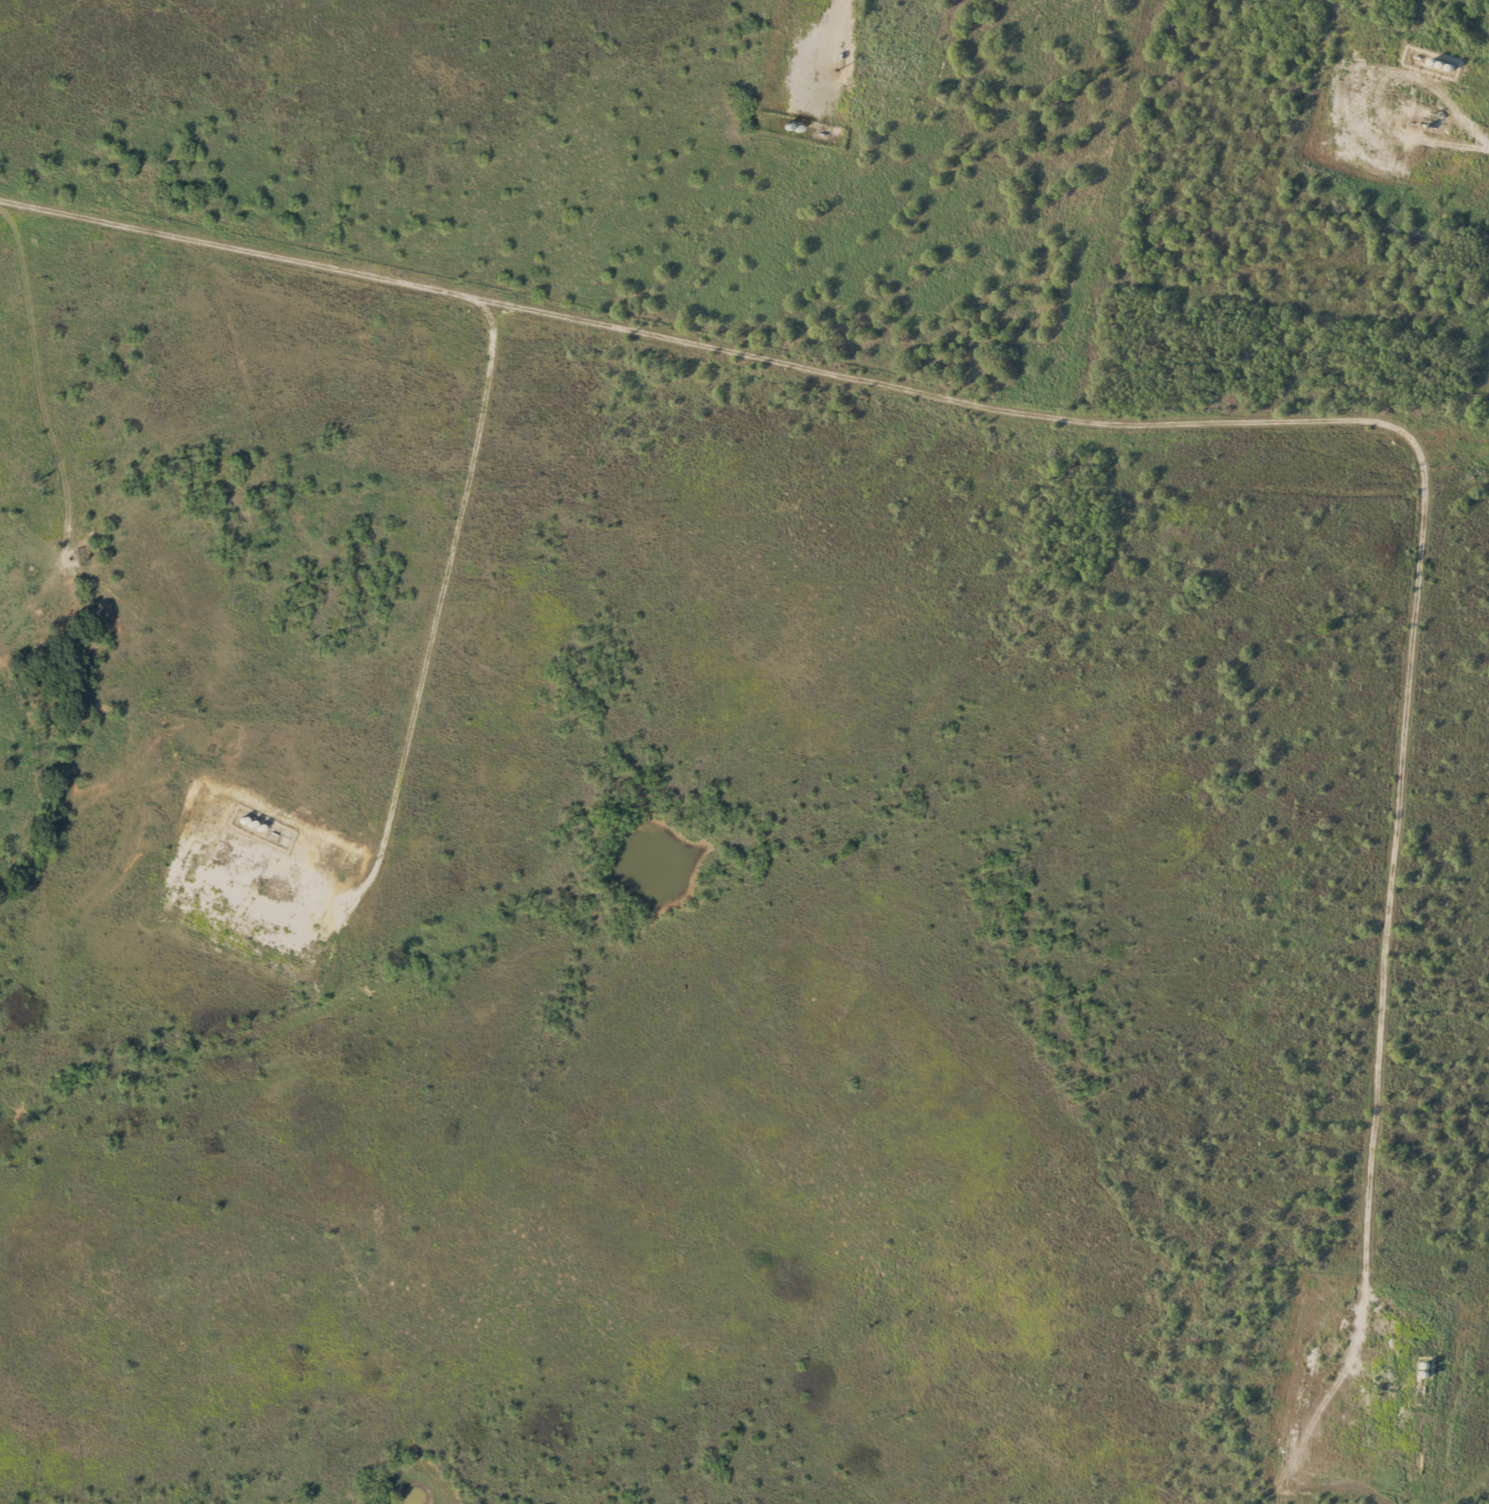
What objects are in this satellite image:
road: (817, 58)
road: (1403, 140)
road: (1229, 426)
road: (420, 687)

